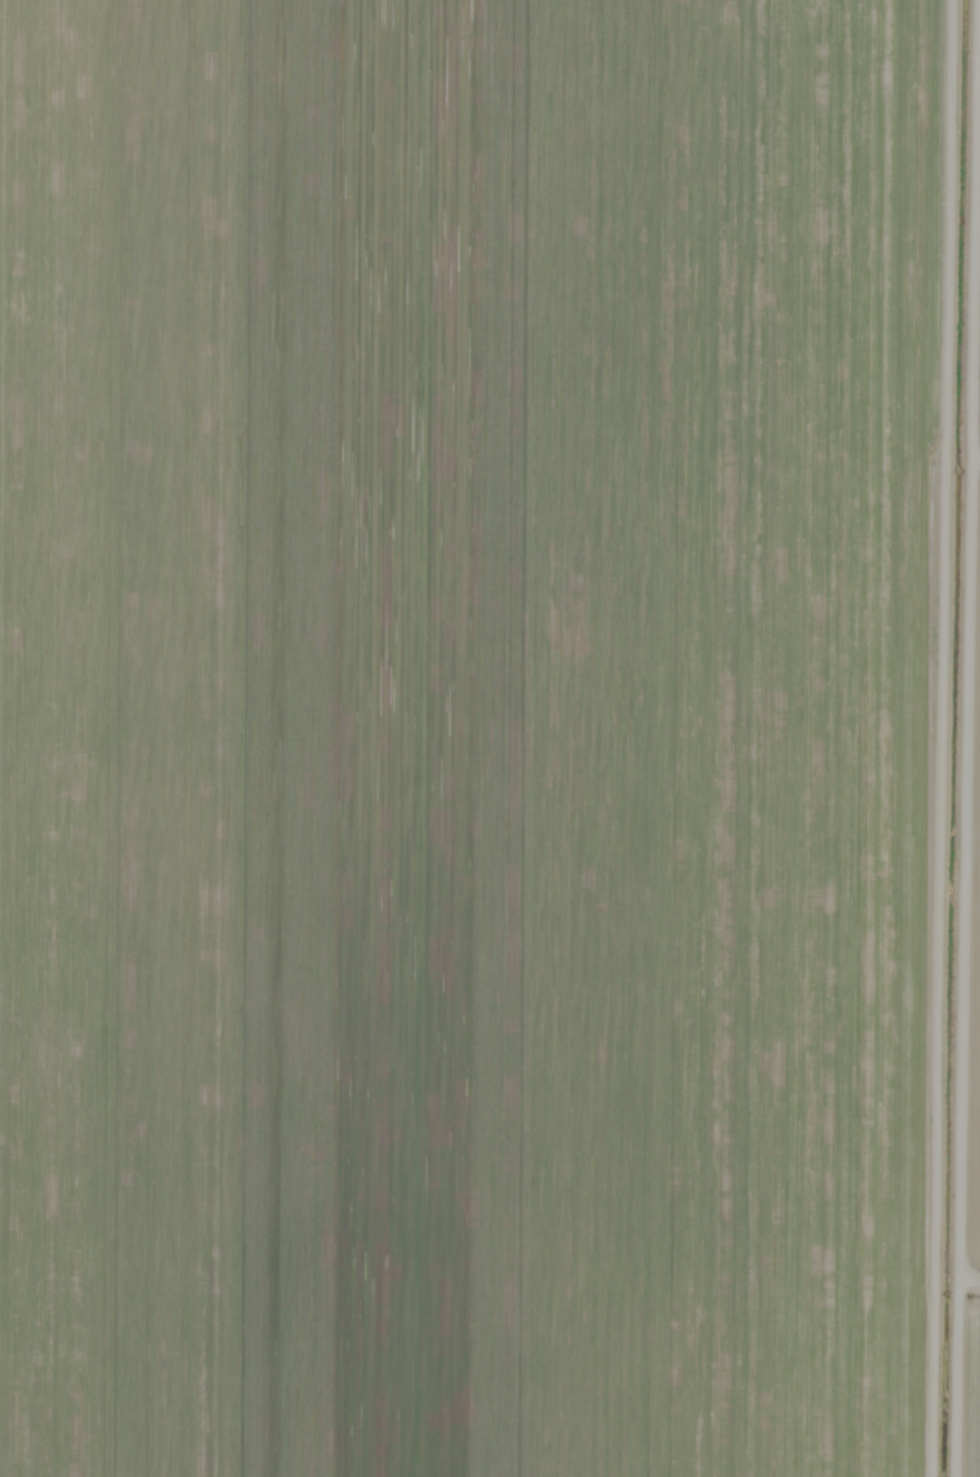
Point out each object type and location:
crop: (487, 736)
crop: (976, 1128)

